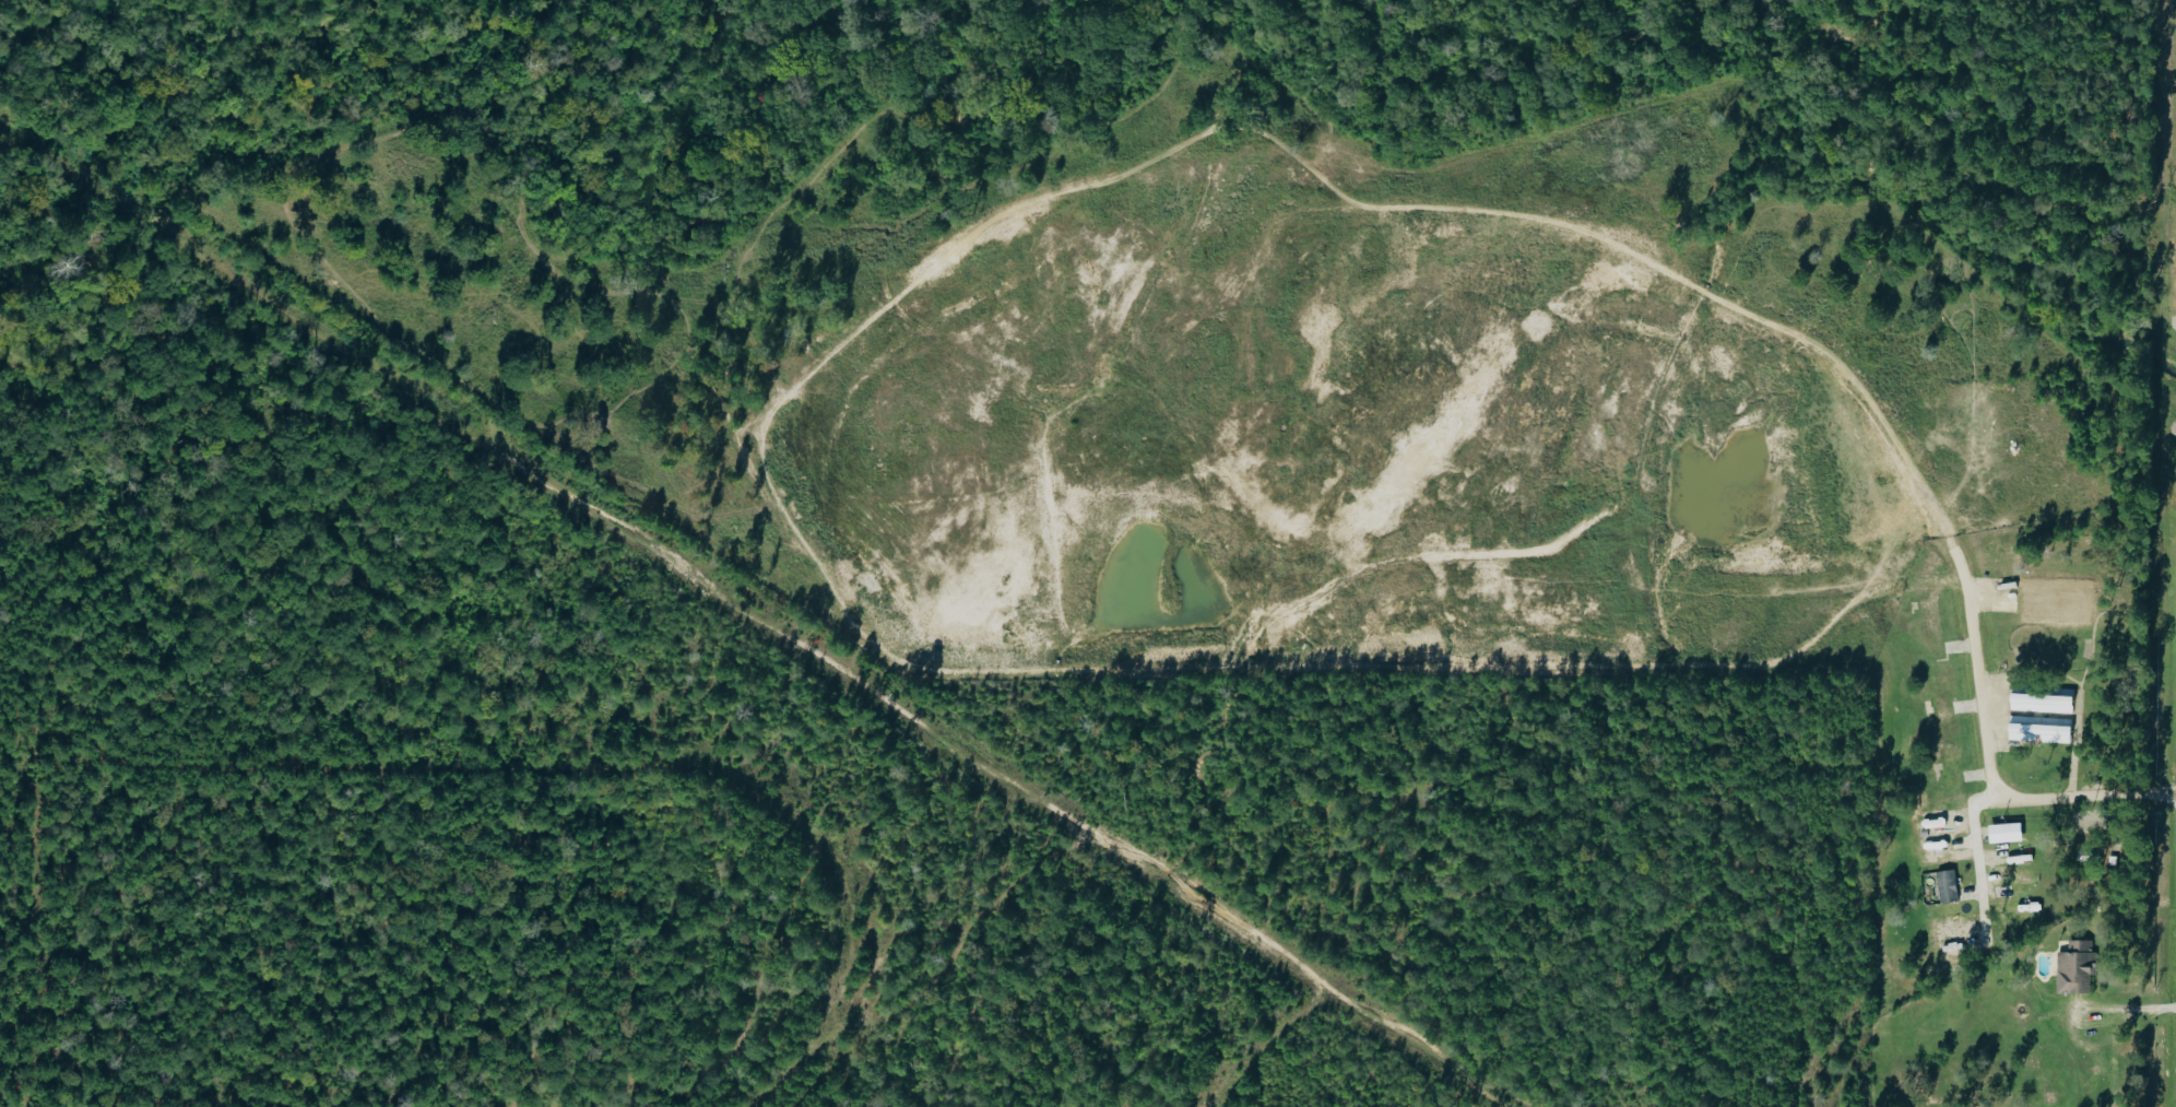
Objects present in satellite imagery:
building: (2038, 703)
building: (2037, 732)
road: (1983, 796)
building: (2009, 833)
building: (1949, 886)
building: (2078, 967)
road: (2128, 1010)

